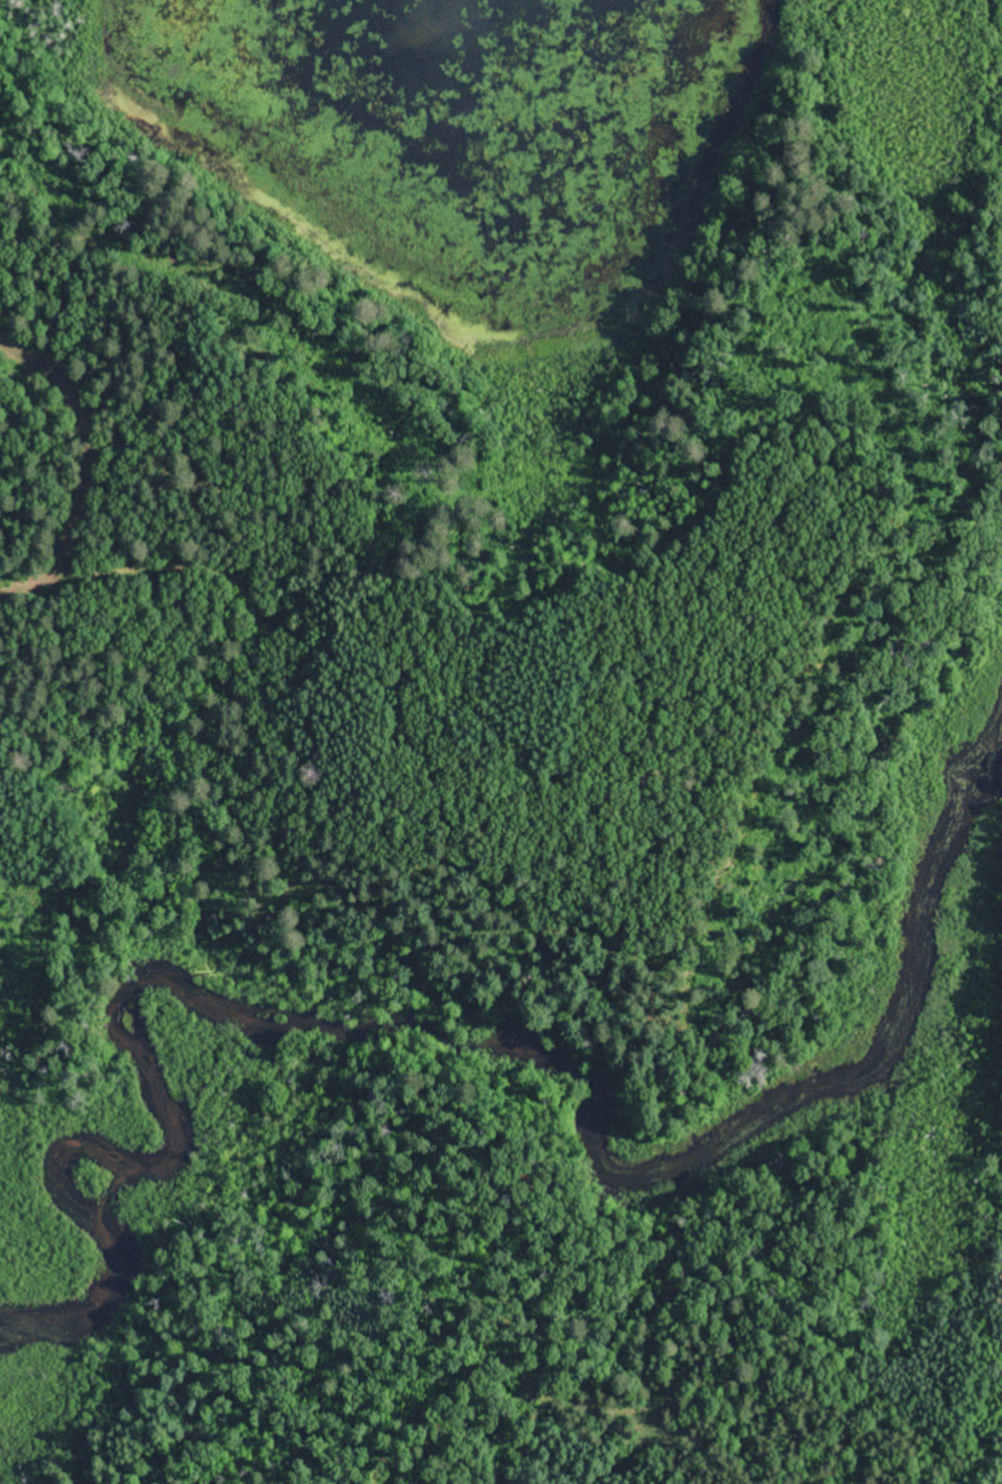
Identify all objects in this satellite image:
road: (672, 1259)

